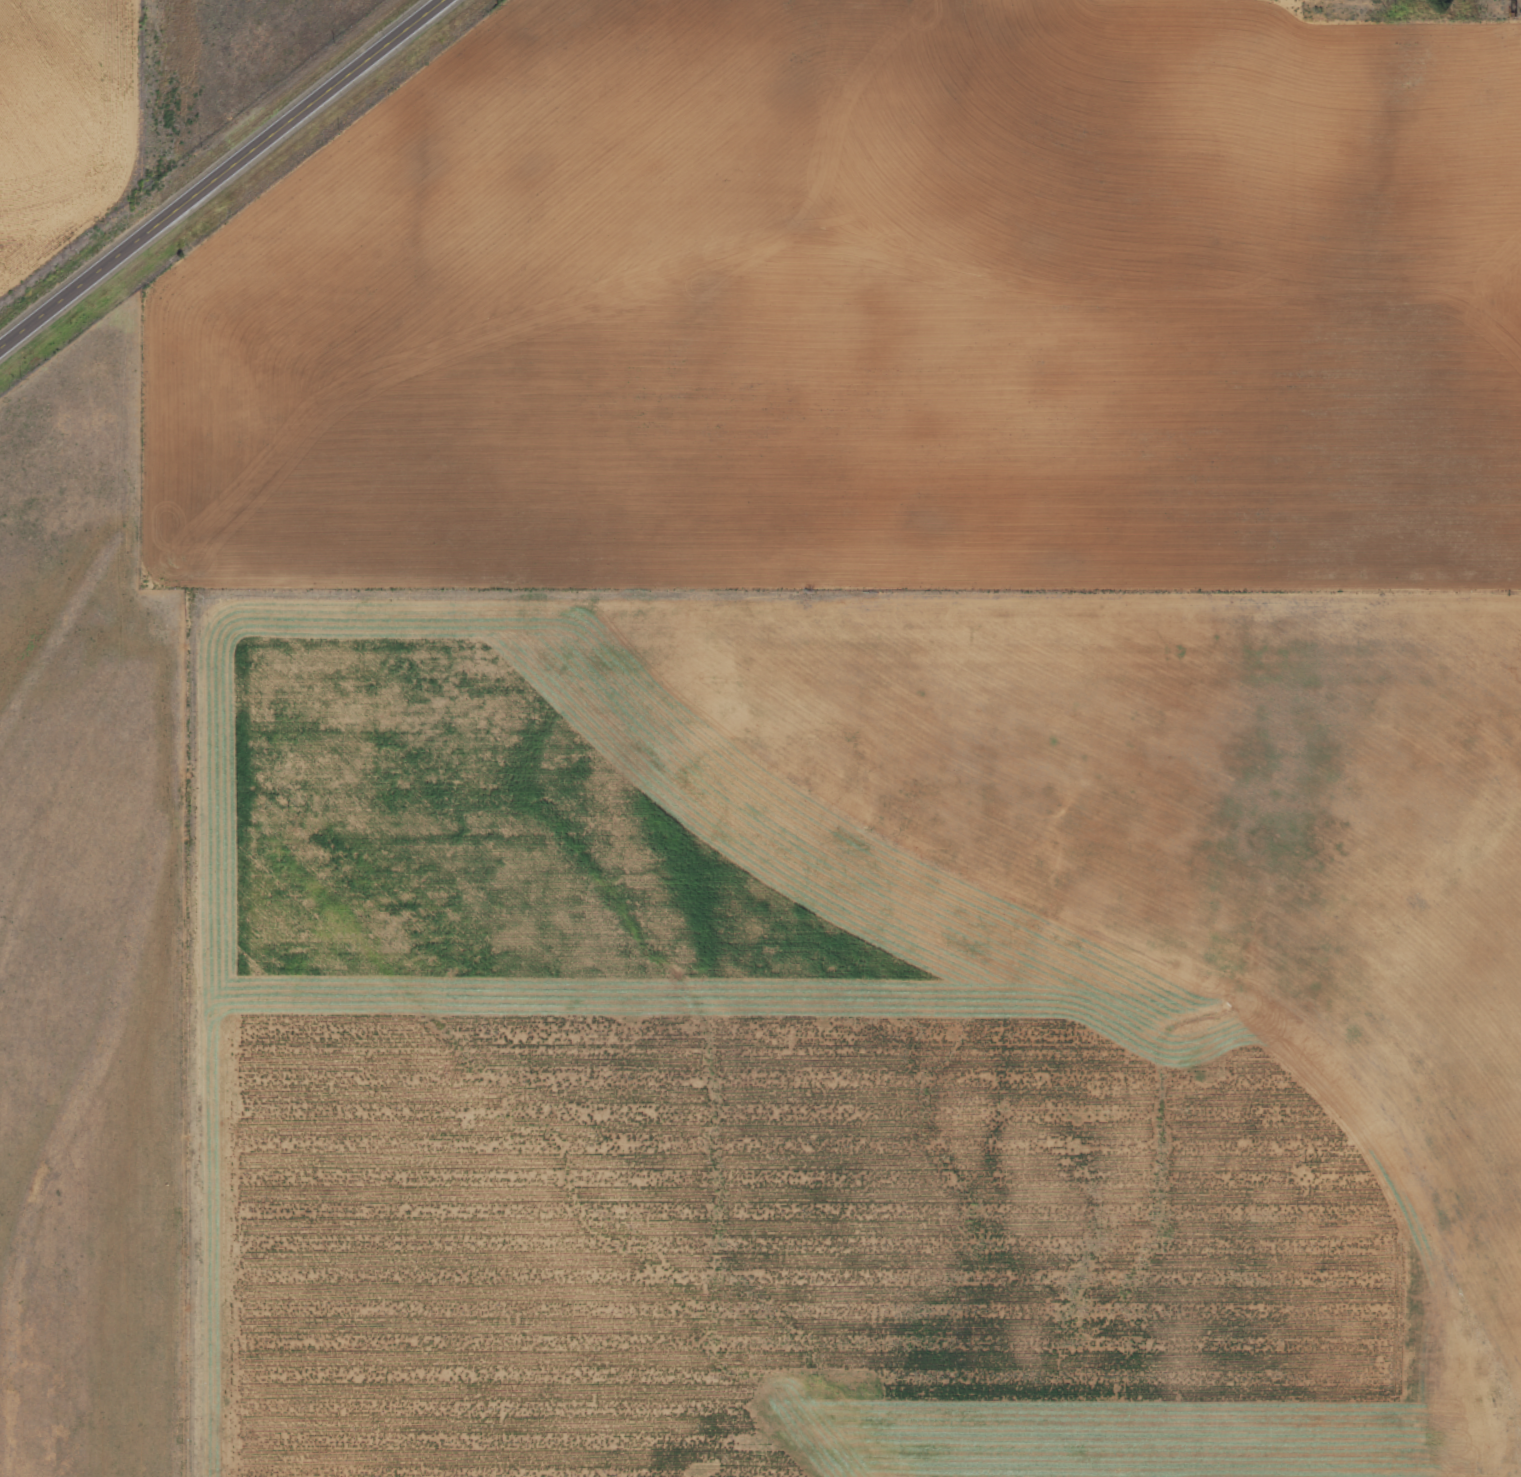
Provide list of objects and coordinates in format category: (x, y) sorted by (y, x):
road: (223, 176)

